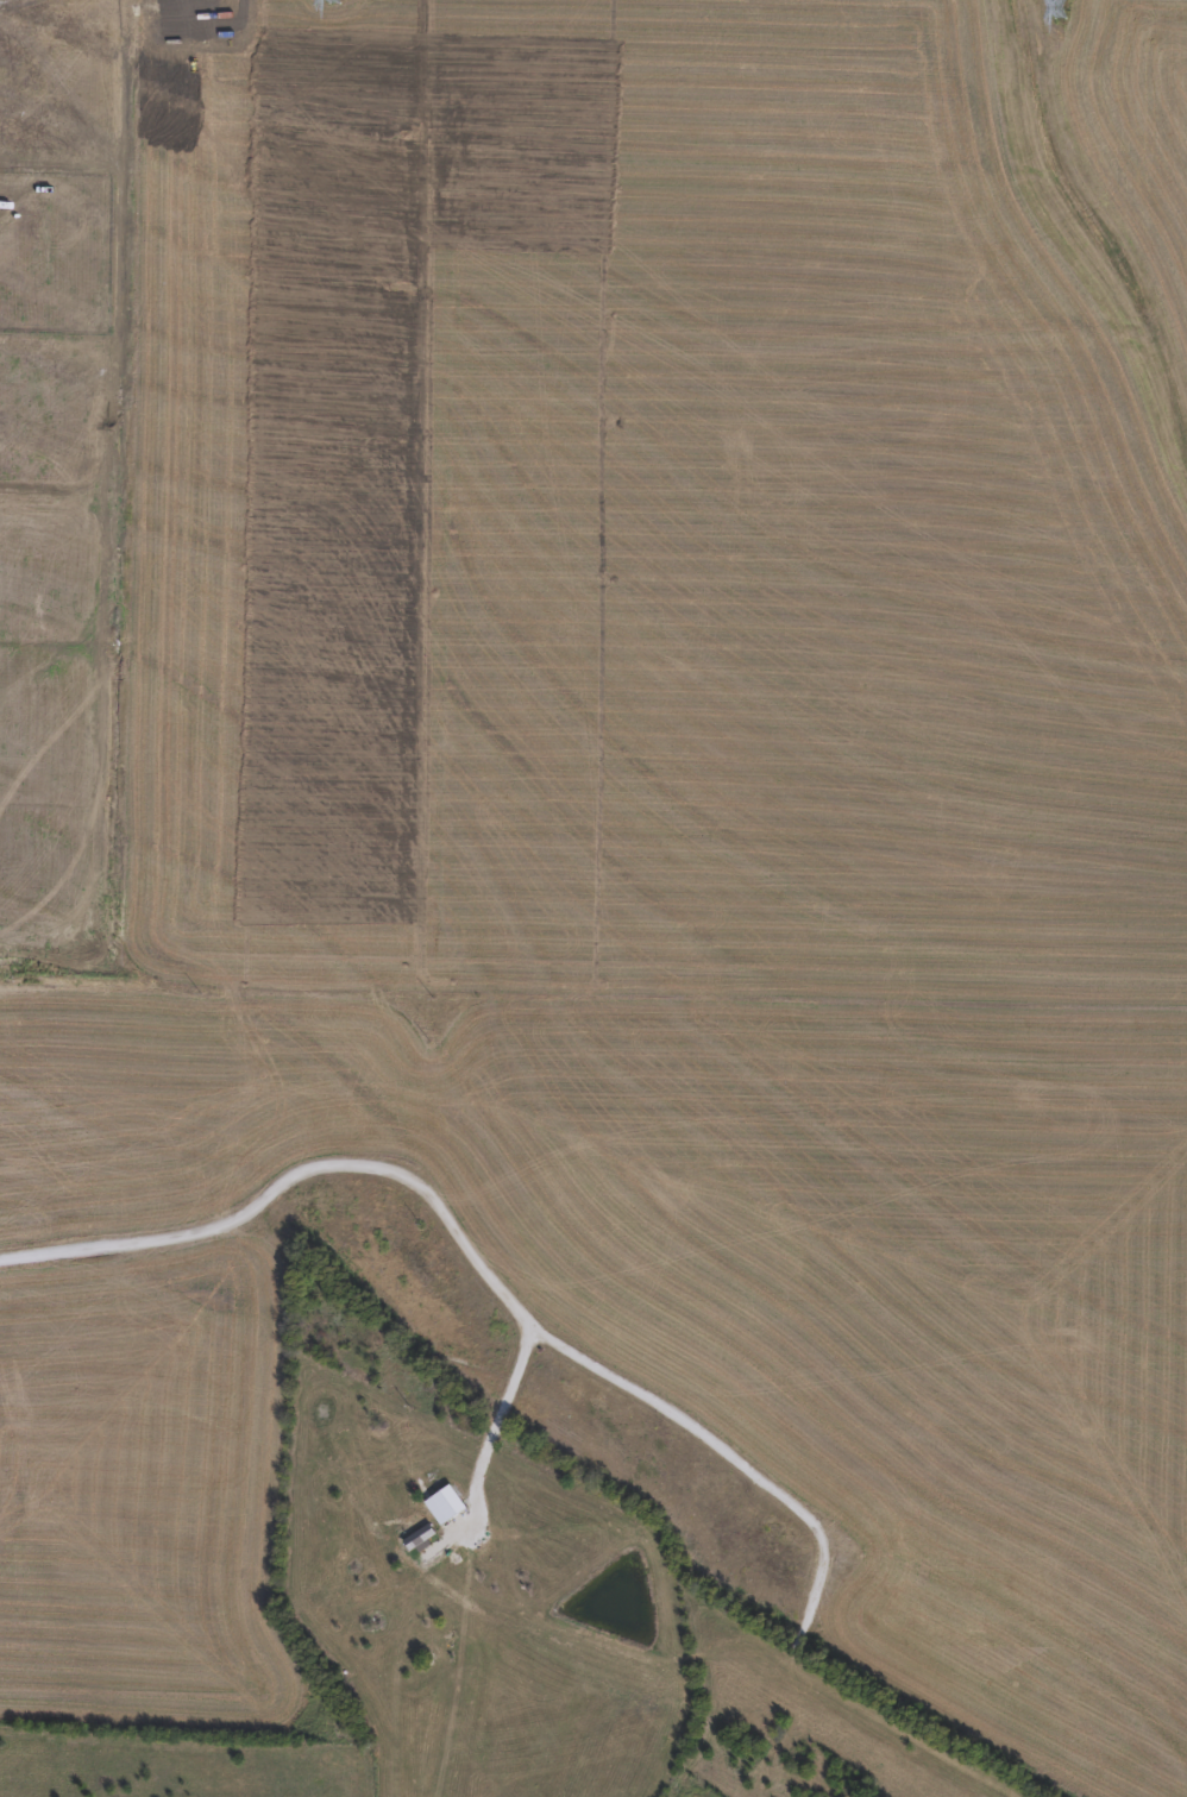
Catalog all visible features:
power tower: (1059, 7)
road: (390, 1179)

